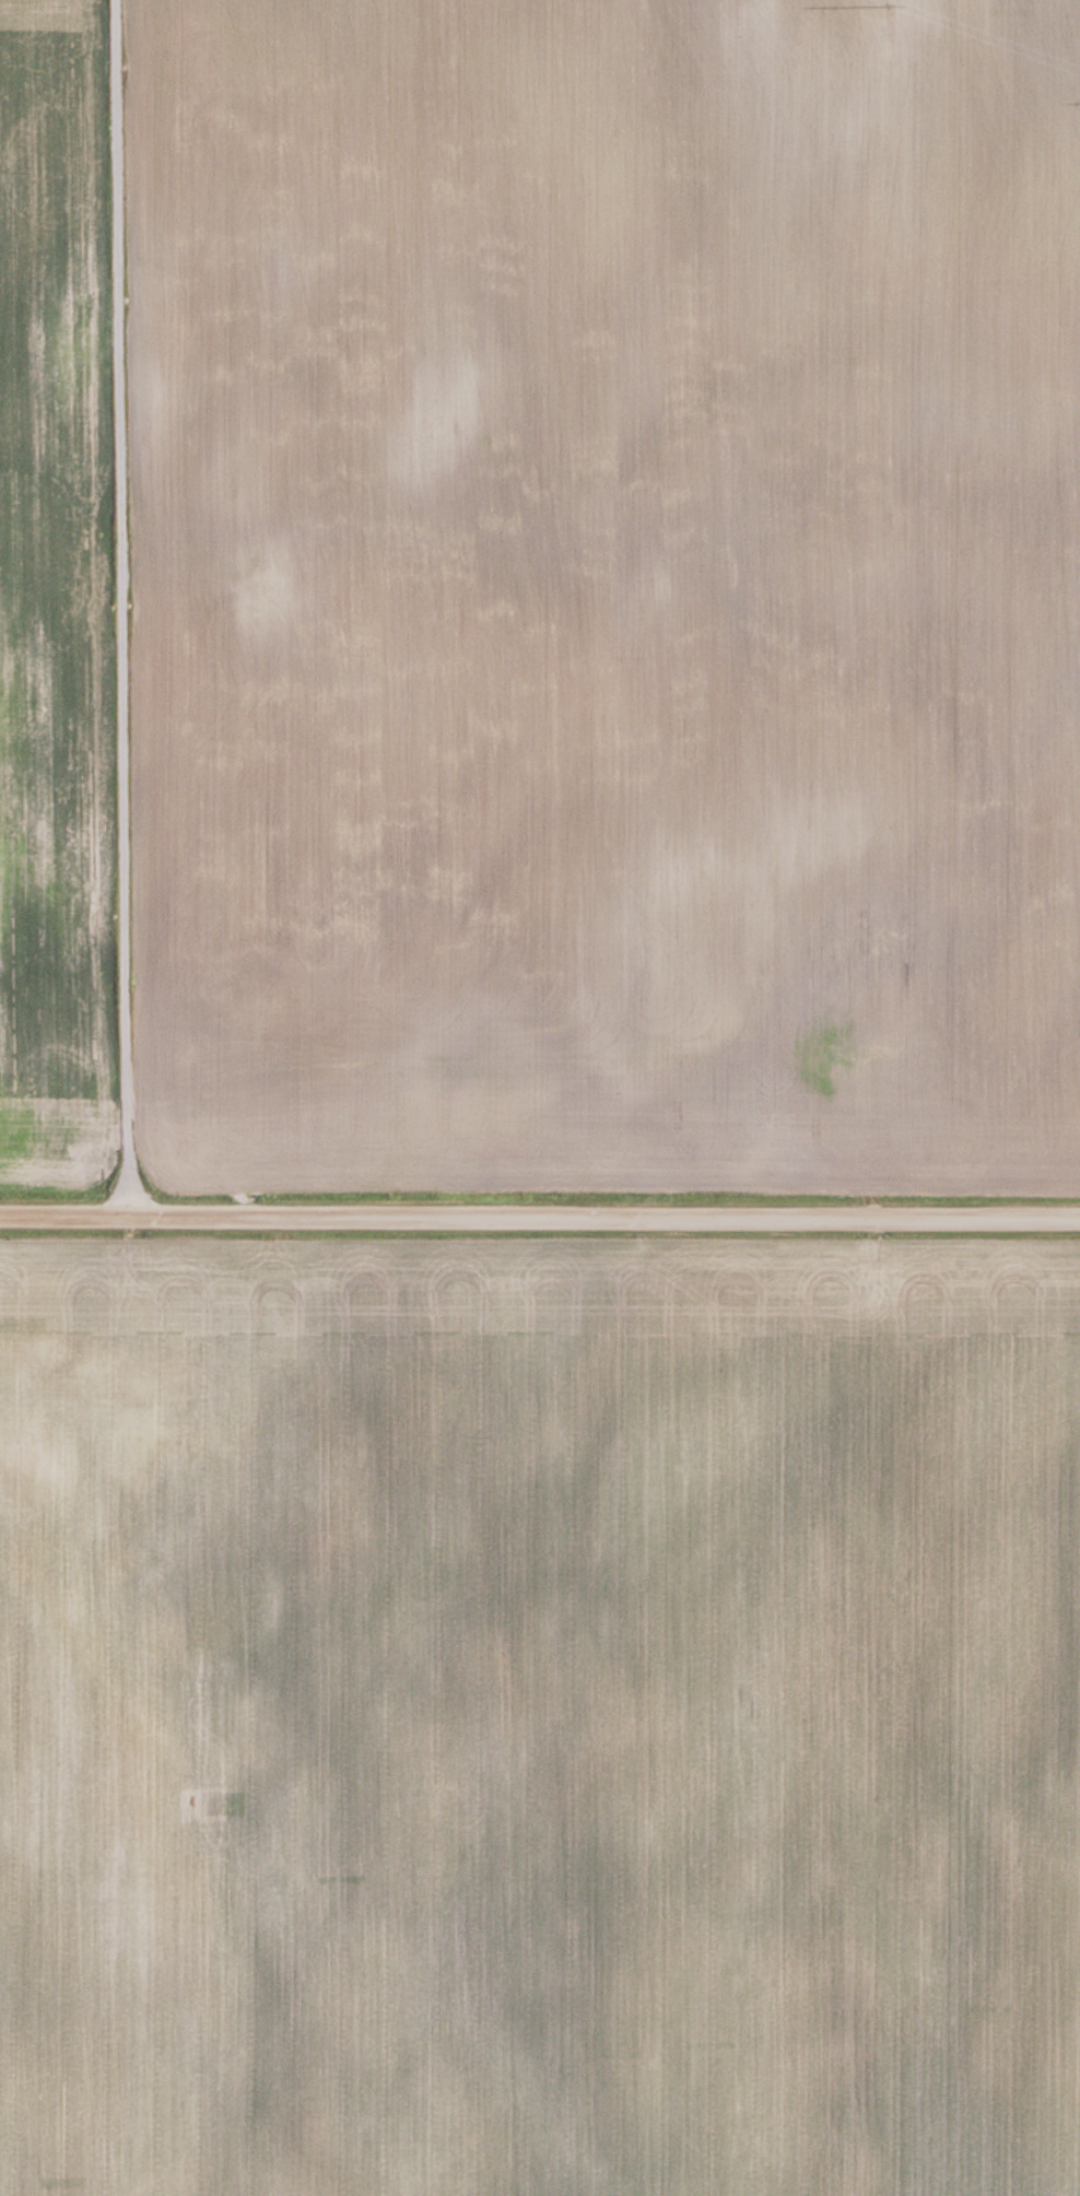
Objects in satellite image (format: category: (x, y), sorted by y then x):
road: (136, 609)
road: (540, 1219)

